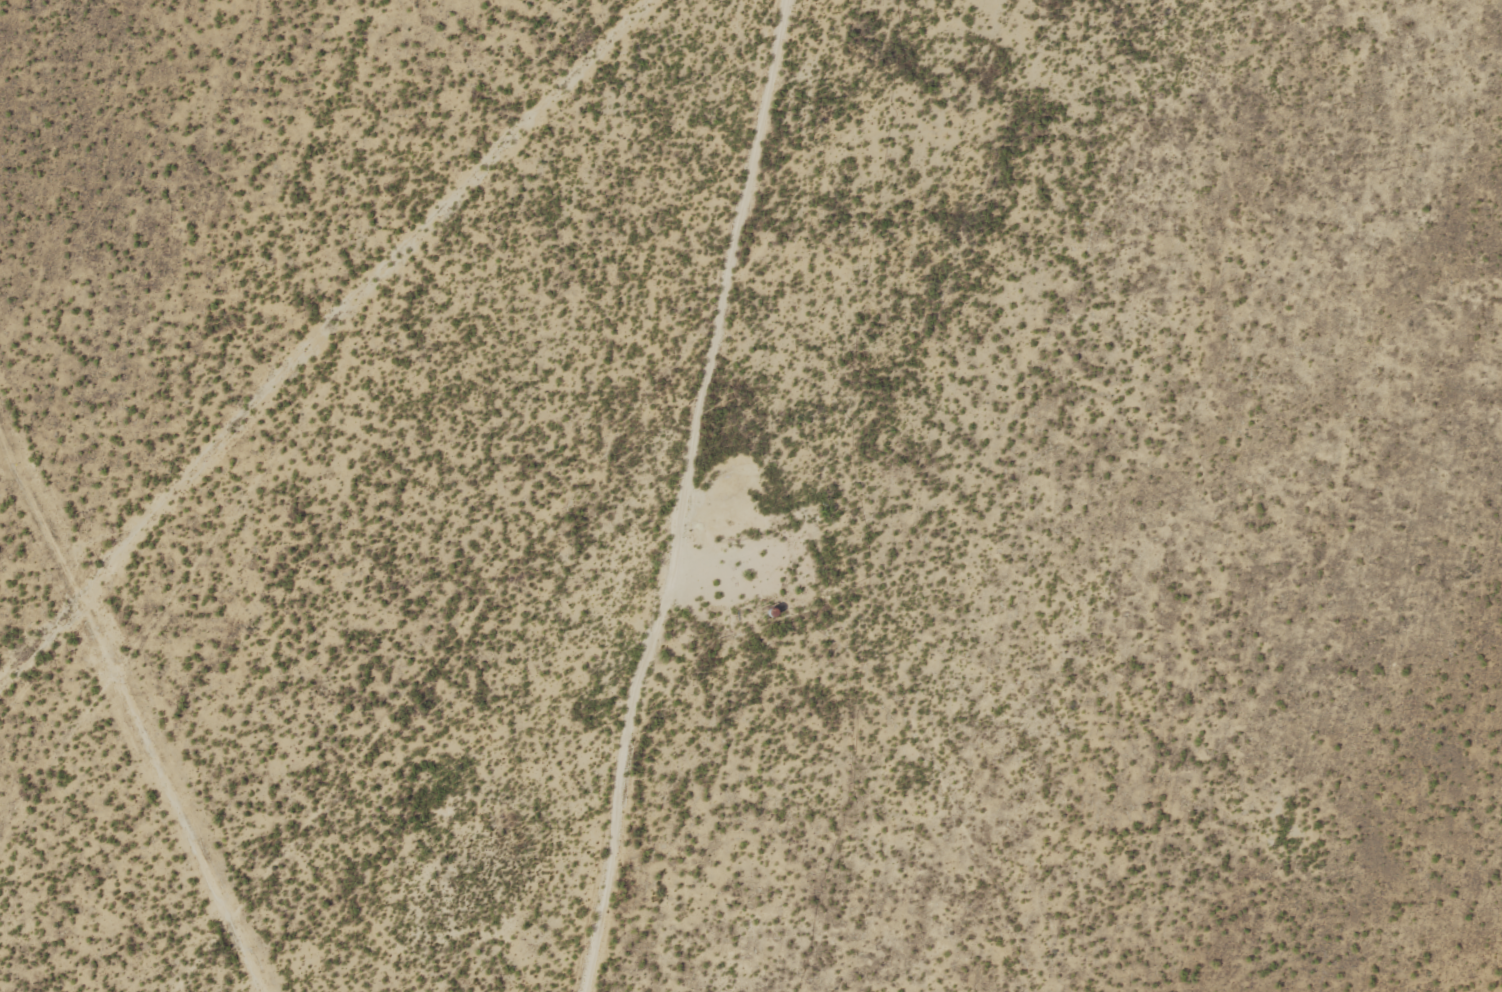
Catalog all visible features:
road: (697, 503)

